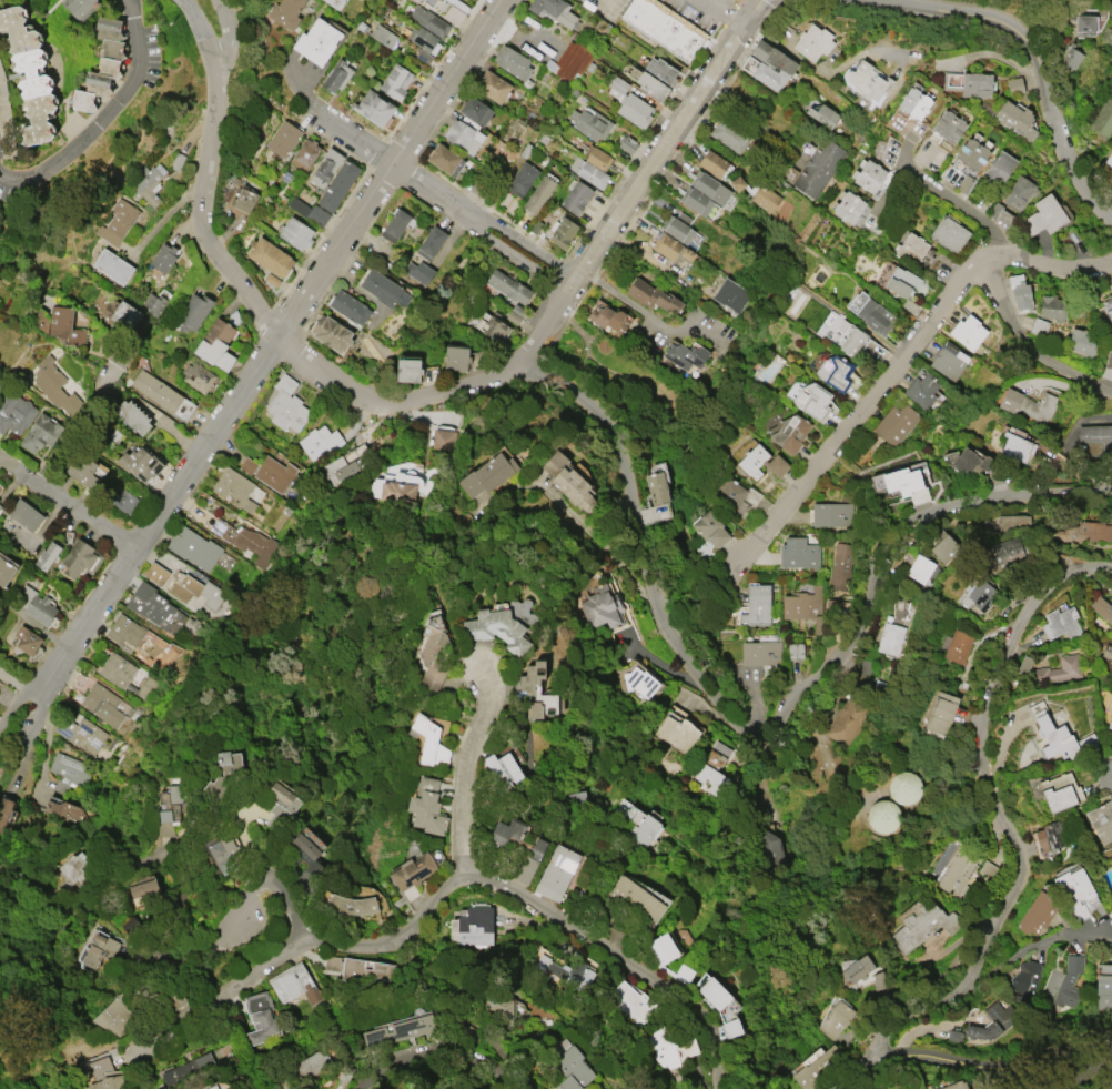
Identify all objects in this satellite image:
building: (427, 1)
building: (335, 3)
parking lot: (719, 4)
road: (995, 8)
building: (73, 9)
building: (554, 11)
building: (285, 12)
road: (721, 12)
road: (959, 12)
parking lot: (695, 13)
building: (453, 14)
building: (428, 20)
building: (1083, 23)
building: (664, 29)
road: (205, 34)
building: (382, 34)
building: (1106, 34)
building: (423, 39)
building: (316, 40)
building: (812, 41)
road: (1035, 46)
building: (1070, 56)
building: (512, 61)
building: (569, 61)
building: (771, 64)
building: (93, 67)
road: (815, 68)
building: (0, 69)
building: (661, 70)
building: (336, 75)
building: (19, 79)
building: (866, 80)
building: (396, 81)
building: (967, 82)
building: (650, 84)
building: (1014, 84)
building: (492, 85)
building: (914, 102)
building: (629, 103)
building: (373, 107)
building: (475, 110)
building: (822, 114)
road: (103, 115)
road: (752, 118)
building: (1102, 119)
building: (1015, 120)
building: (589, 122)
building: (948, 125)
building: (729, 134)
building: (463, 135)
building: (282, 139)
road: (1058, 140)
building: (626, 143)
building: (971, 153)
building: (304, 154)
building: (596, 157)
building: (445, 159)
building: (1110, 160)
building: (712, 162)
building: (999, 165)
building: (818, 167)
building: (325, 168)
building: (587, 171)
building: (868, 175)
building: (522, 179)
building: (737, 183)
building: (144, 184)
building: (709, 186)
road: (937, 192)
building: (1018, 192)
building: (327, 194)
road: (432, 194)
building: (537, 194)
building: (575, 196)
building: (765, 196)
building: (243, 199)
road: (624, 200)
building: (695, 200)
building: (848, 206)
building: (993, 210)
building: (1043, 215)
building: (117, 221)
building: (394, 224)
building: (678, 226)
building: (295, 232)
building: (562, 232)
building: (949, 234)
building: (431, 242)
building: (670, 248)
building: (911, 249)
building: (269, 256)
building: (162, 258)
building: (112, 265)
building: (417, 271)
building: (507, 285)
building: (902, 285)
building: (381, 286)
building: (1020, 292)
building: (651, 295)
building: (729, 296)
building: (153, 303)
building: (348, 306)
building: (1051, 306)
building: (1108, 307)
building: (193, 311)
building: (121, 315)
road: (649, 315)
building: (875, 315)
building: (608, 317)
building: (58, 323)
building: (492, 326)
building: (1039, 326)
building: (967, 331)
building: (331, 332)
building: (852, 340)
building: (1081, 341)
building: (215, 344)
road: (1028, 344)
road: (266, 349)
building: (685, 354)
road: (907, 355)
building: (1109, 355)
building: (455, 357)
building: (948, 362)
building: (407, 370)
building: (835, 372)
building: (198, 376)
building: (52, 384)
park: (597, 384)
building: (155, 390)
building: (921, 390)
building: (811, 400)
building: (1028, 404)
building: (285, 405)
building: (14, 412)
building: (132, 416)
road: (166, 422)
building: (894, 423)
road: (476, 425)
road: (69, 427)
building: (39, 433)
building: (789, 433)
building: (1096, 435)
building: (443, 438)
building: (319, 441)
building: (1015, 446)
building: (970, 461)
building: (760, 462)
building: (139, 463)
building: (246, 465)
building: (82, 470)
building: (337, 470)
building: (274, 473)
building: (487, 474)
road: (624, 480)
building: (568, 481)
building: (906, 484)
building: (400, 487)
building: (656, 487)
building: (233, 488)
building: (730, 493)
building: (0, 500)
building: (123, 501)
road: (67, 504)
building: (24, 514)
building: (831, 514)
building: (1012, 524)
building: (709, 528)
building: (1085, 531)
building: (245, 541)
building: (193, 547)
building: (944, 547)
building: (1000, 552)
building: (798, 553)
building: (47, 555)
building: (79, 558)
building: (843, 566)
building: (921, 568)
building: (4, 571)
building: (154, 572)
building: (195, 589)
building: (981, 593)
building: (34, 604)
building: (152, 605)
building: (756, 605)
building: (600, 606)
building: (803, 606)
building: (1102, 608)
building: (1060, 622)
building: (496, 628)
building: (124, 629)
building: (890, 637)
building: (26, 639)
building: (956, 645)
building: (796, 651)
building: (759, 652)
building: (433, 653)
building: (1106, 657)
building: (1058, 669)
building: (124, 675)
building: (639, 680)
road: (16, 686)
building: (536, 690)
building: (101, 704)
building: (941, 712)
road: (16, 715)
building: (847, 719)
building: (1110, 723)
building: (79, 733)
building: (677, 733)
building: (1054, 738)
building: (428, 740)
road: (464, 767)
building: (712, 767)
building: (502, 769)
building: (68, 774)
building: (225, 775)
building: (903, 787)
building: (1059, 791)
building: (426, 806)
building: (169, 808)
building: (281, 808)
building: (65, 809)
building: (6, 810)
building: (882, 816)
road: (1003, 818)
building: (1101, 820)
building: (640, 825)
building: (506, 831)
building: (1049, 837)
building: (770, 848)
building: (303, 853)
building: (226, 856)
building: (528, 861)
building: (957, 869)
building: (69, 871)
building: (556, 871)
building: (985, 873)
building: (412, 875)
building: (142, 887)
road: (449, 888)
building: (1073, 891)
building: (635, 899)
building: (351, 904)
building: (1037, 912)
building: (922, 925)
building: (472, 927)
road: (1033, 947)
building: (97, 949)
building: (667, 956)
building: (362, 968)
road: (202, 969)
building: (856, 969)
building: (1024, 980)
building: (879, 981)
building: (1062, 982)
building: (294, 984)
building: (1103, 986)
building: (714, 992)
building: (630, 1001)
building: (504, 1006)
building: (115, 1012)
building: (259, 1017)
building: (835, 1018)
building: (992, 1021)
building: (731, 1027)
building: (400, 1030)
building: (954, 1036)
building: (673, 1048)
road: (442, 1057)
road: (980, 1063)
building: (311, 1065)
building: (817, 1067)
building: (185, 1068)
building: (573, 1068)
road: (851, 1070)
road: (1088, 1072)
building: (101, 1076)
building: (957, 1085)
building: (213, 1087)
building: (467, 1088)
building: (471, 1088)

